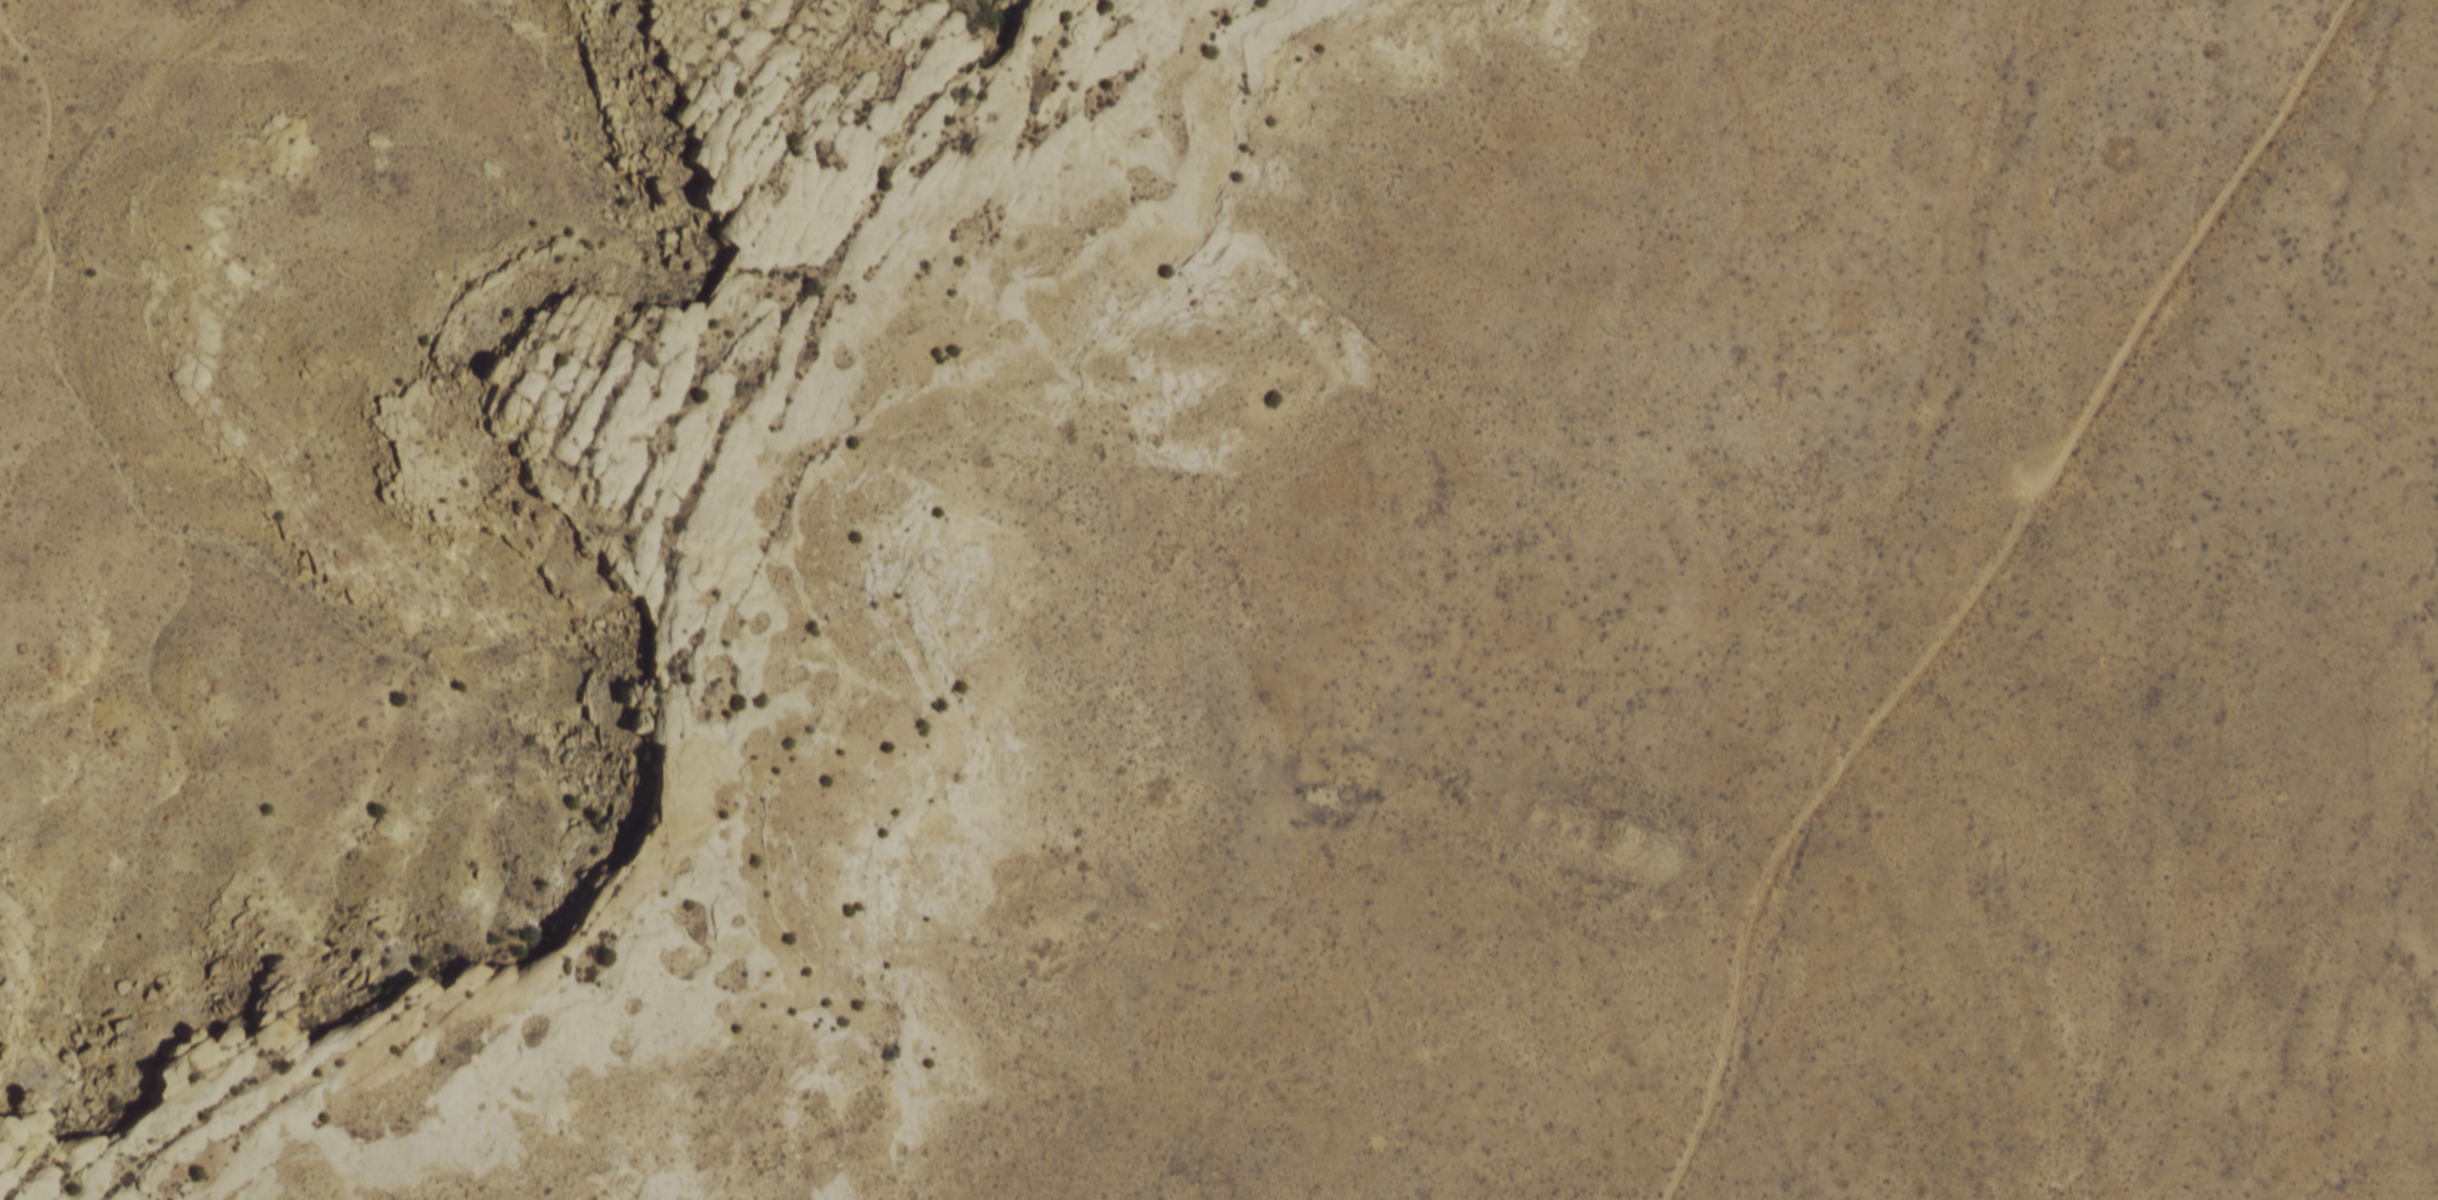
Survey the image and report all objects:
road: (1976, 588)

